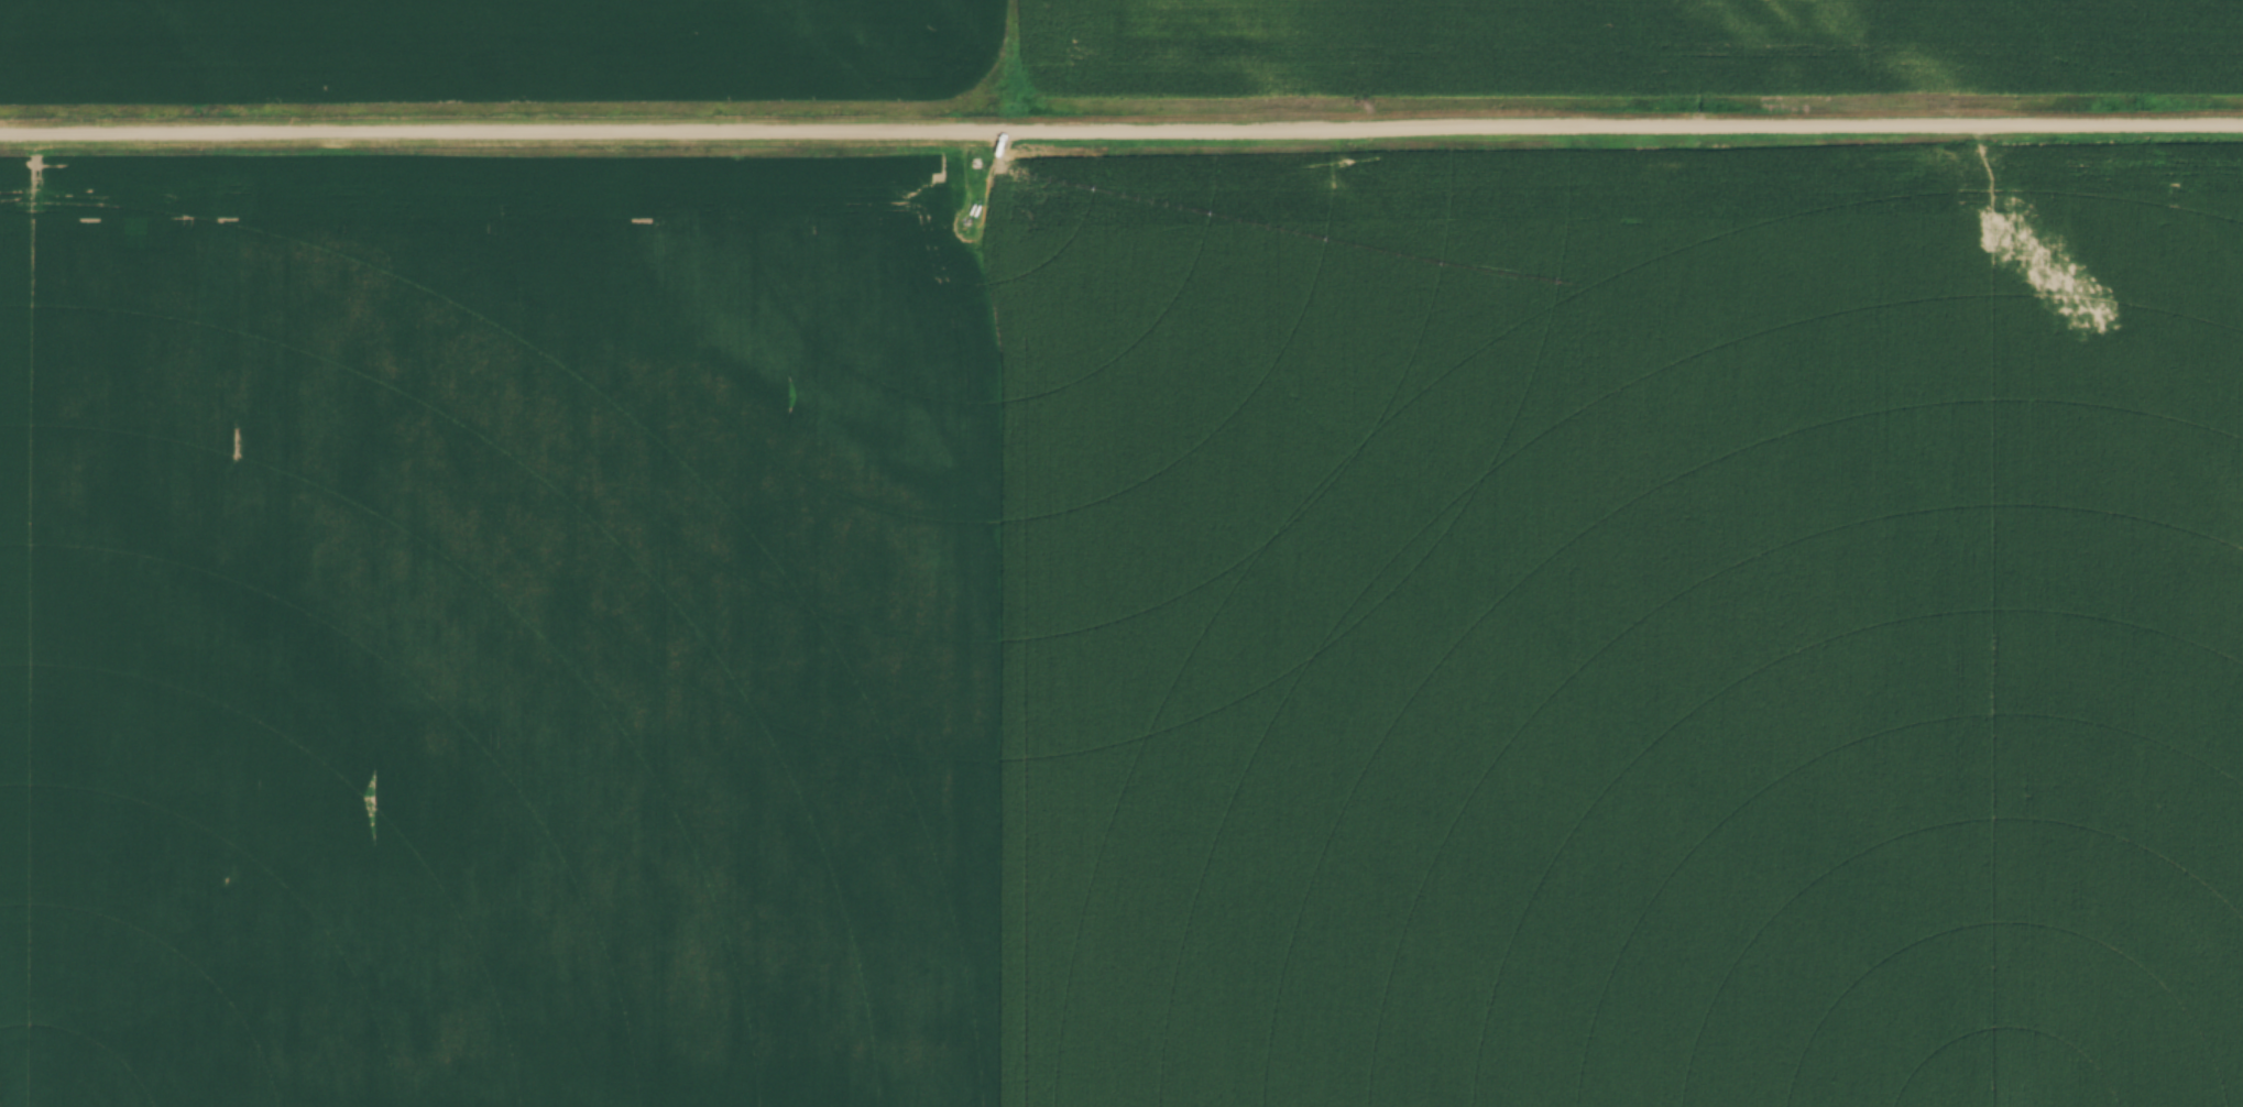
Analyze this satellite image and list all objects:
road: (1121, 136)
crop: (1629, 635)

